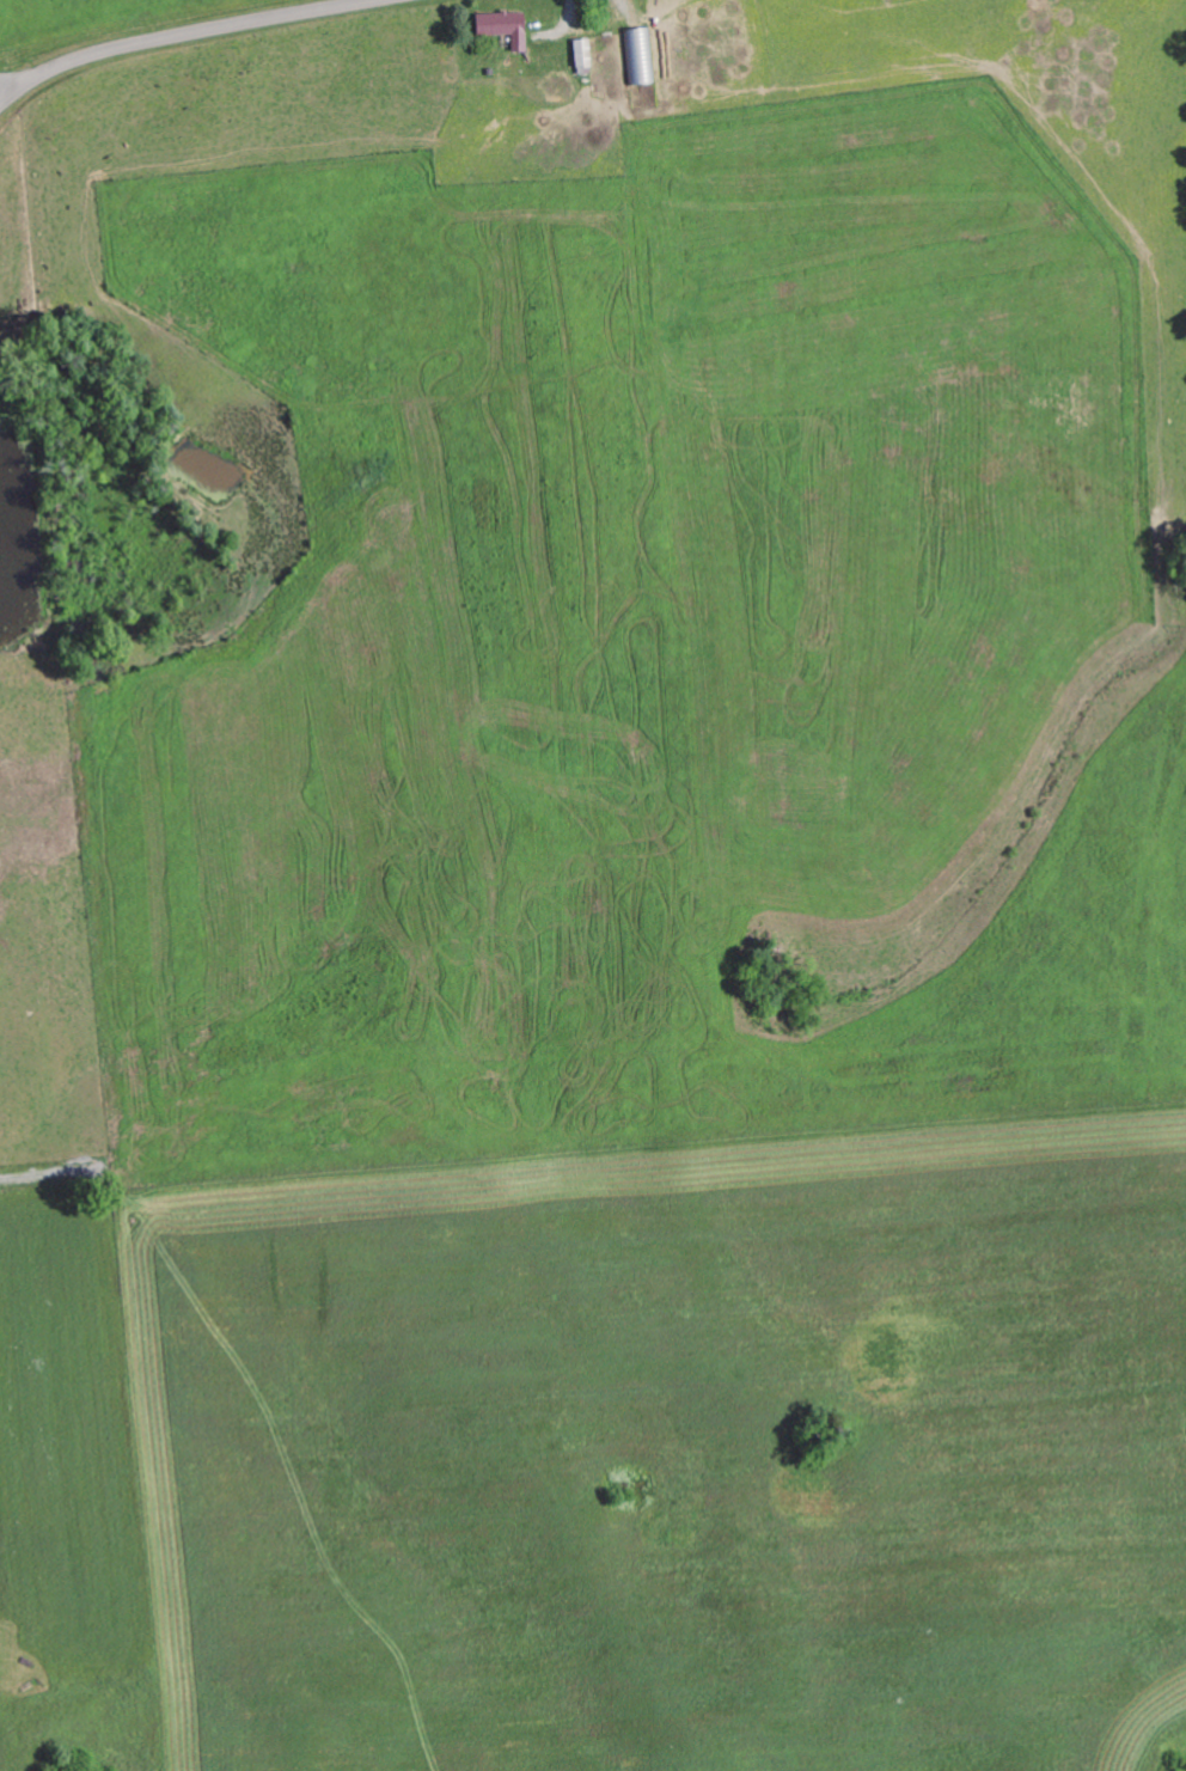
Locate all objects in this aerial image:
building: (505, 25)
road: (173, 33)
building: (583, 55)
building: (641, 55)
road: (11, 80)

